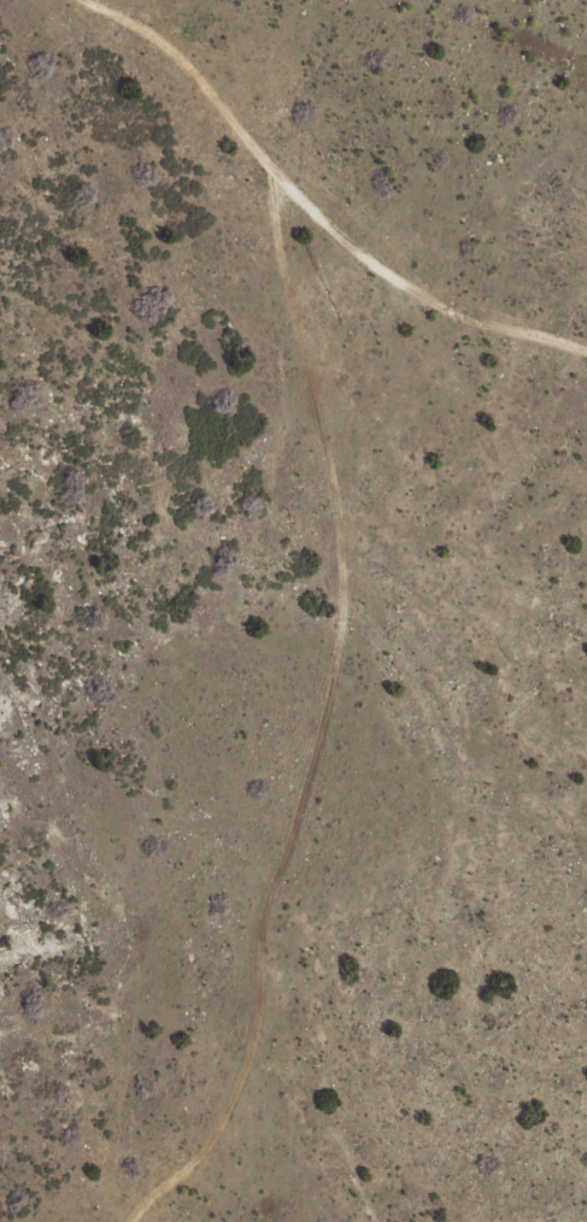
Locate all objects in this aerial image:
road: (457, 311)
road: (345, 545)

